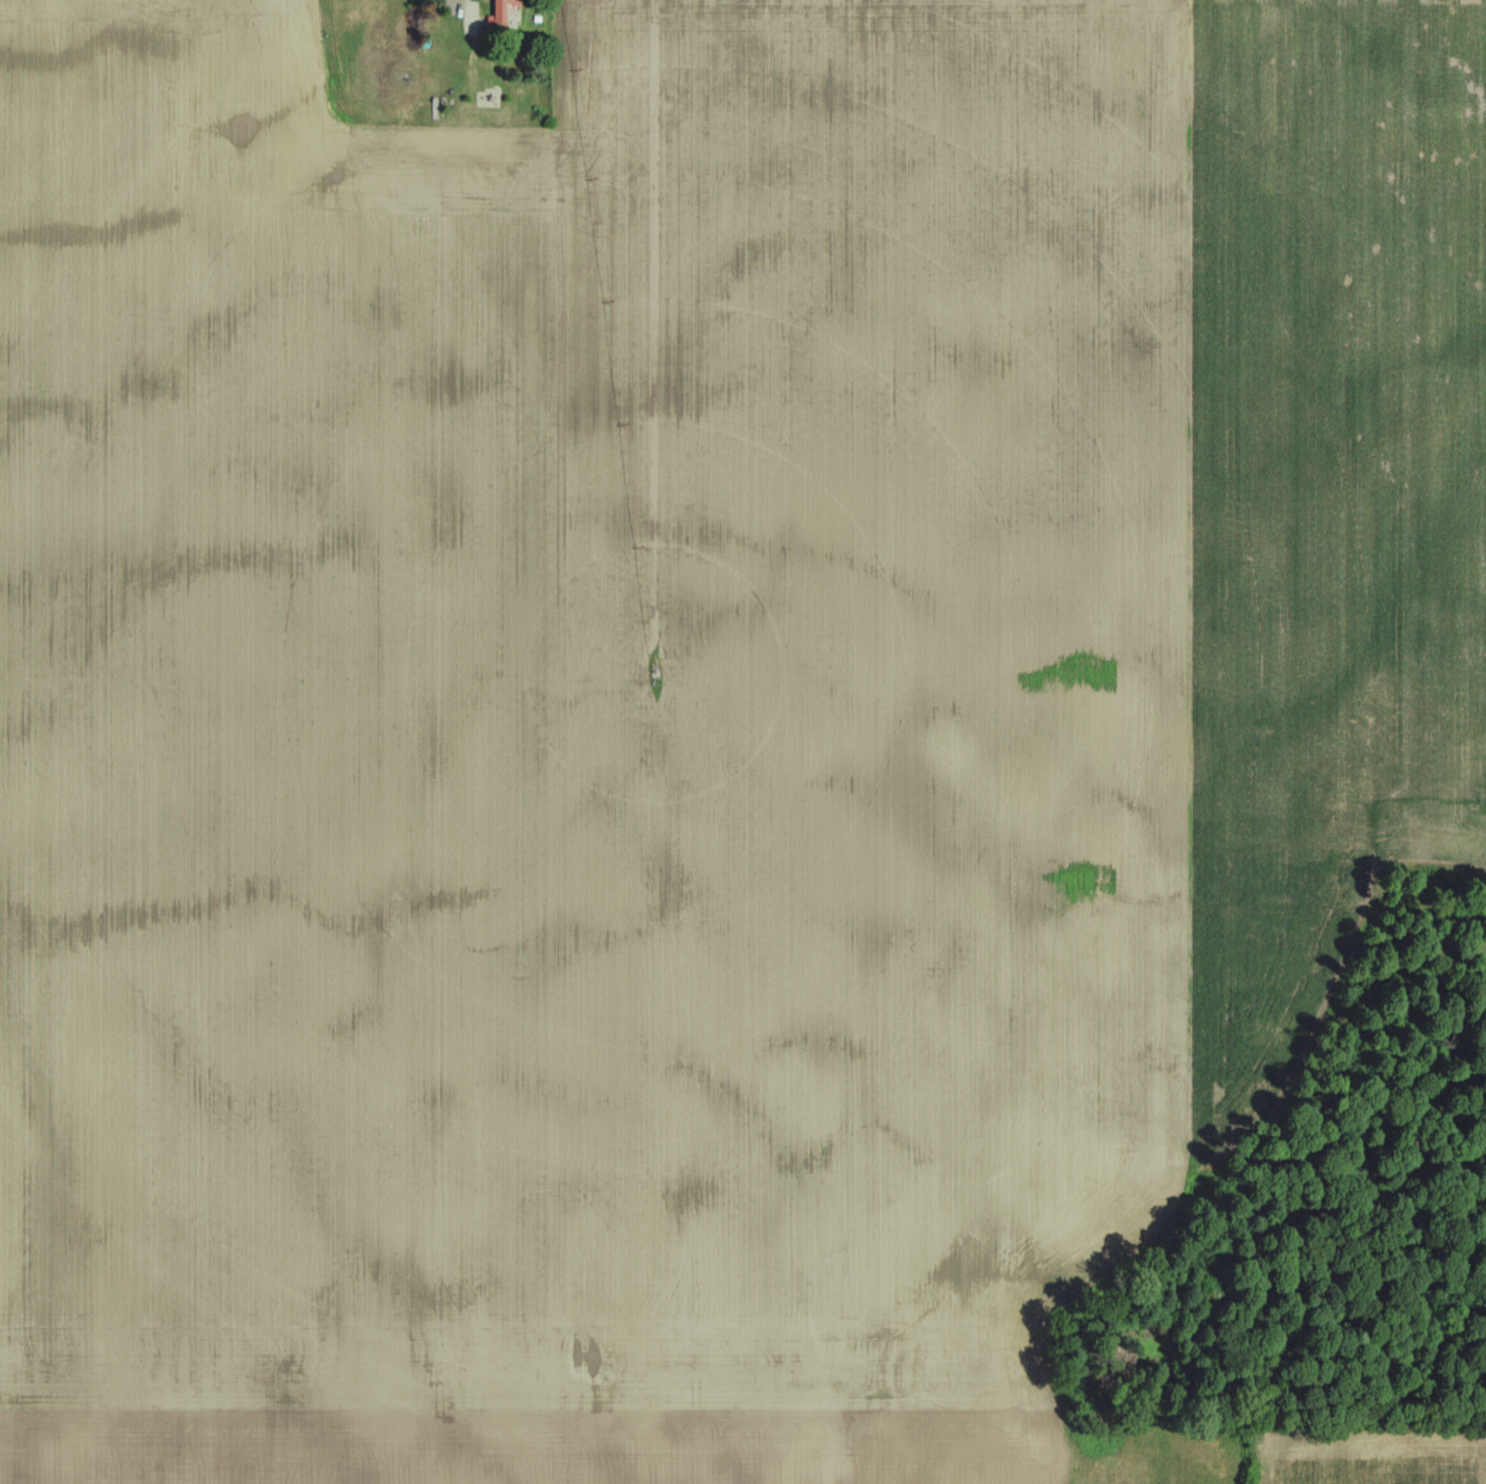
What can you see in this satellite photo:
road: (468, 10)
building: (501, 11)

